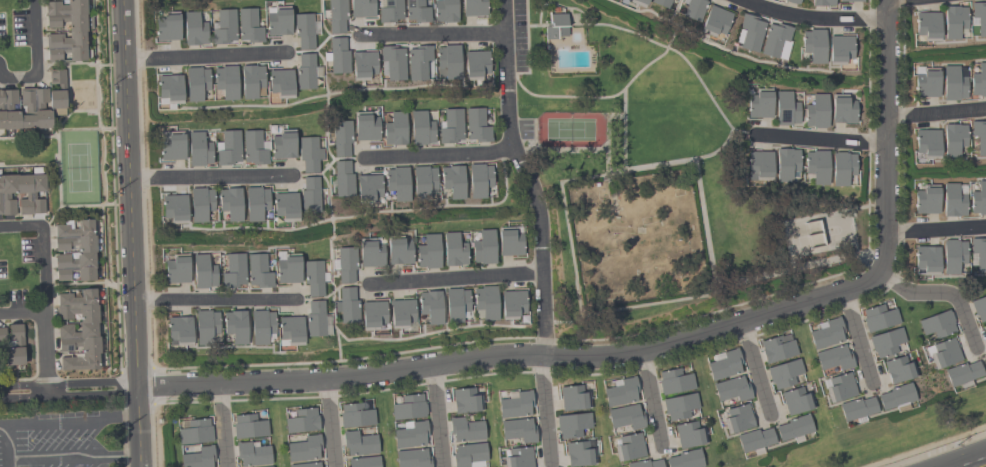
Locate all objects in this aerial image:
building: (850, 0)
road: (885, 0)
road: (890, 0)
building: (793, 1)
building: (637, 2)
building: (822, 2)
building: (660, 3)
building: (473, 7)
building: (362, 8)
building: (694, 9)
building: (445, 10)
building: (390, 11)
building: (416, 11)
building: (336, 16)
road: (814, 16)
building: (979, 17)
building: (278, 21)
building: (714, 21)
building: (953, 21)
building: (248, 25)
building: (556, 25)
building: (927, 25)
building: (167, 26)
building: (224, 27)
building: (193, 29)
building: (303, 30)
building: (76, 31)
building: (749, 32)
road: (434, 33)
building: (775, 40)
building: (813, 45)
building: (838, 49)
road: (36, 55)
road: (204, 55)
building: (337, 55)
building: (418, 61)
building: (447, 61)
building: (392, 62)
building: (362, 64)
building: (475, 64)
building: (306, 71)
building: (250, 80)
building: (979, 80)
building: (225, 81)
building: (280, 81)
building: (927, 82)
building: (954, 82)
building: (195, 83)
building: (169, 90)
building: (760, 103)
building: (32, 104)
building: (786, 108)
building: (842, 109)
building: (816, 111)
road: (936, 112)
building: (477, 125)
building: (365, 126)
building: (451, 126)
building: (421, 128)
building: (395, 129)
park: (569, 129)
road: (885, 136)
building: (979, 136)
building: (342, 138)
road: (820, 138)
building: (953, 139)
building: (926, 143)
building: (283, 145)
building: (228, 147)
building: (253, 147)
building: (172, 148)
building: (199, 150)
road: (440, 152)
building: (309, 153)
building: (786, 163)
building: (759, 164)
building: (816, 166)
building: (841, 168)
park: (77, 169)
park: (655, 171)
road: (209, 176)
road: (528, 176)
building: (342, 179)
building: (478, 179)
building: (452, 180)
building: (422, 181)
building: (397, 182)
building: (367, 187)
road: (128, 193)
building: (310, 194)
building: (29, 196)
building: (978, 198)
building: (926, 199)
building: (953, 200)
building: (255, 202)
building: (200, 203)
building: (230, 203)
building: (285, 206)
building: (174, 207)
road: (935, 229)
building: (510, 242)
building: (483, 247)
building: (85, 248)
building: (453, 249)
building: (399, 251)
building: (428, 252)
building: (371, 253)
building: (979, 253)
building: (952, 255)
building: (926, 259)
building: (346, 264)
building: (288, 268)
building: (177, 269)
road: (42, 270)
building: (234, 270)
building: (258, 271)
building: (203, 272)
building: (313, 277)
road: (455, 277)
road: (942, 291)
road: (214, 298)
building: (485, 302)
building: (512, 304)
building: (347, 305)
building: (456, 305)
building: (430, 306)
building: (979, 308)
building: (401, 312)
building: (372, 313)
building: (314, 318)
building: (878, 318)
building: (937, 324)
building: (235, 325)
building: (206, 326)
building: (261, 326)
building: (985, 326)
building: (290, 328)
building: (78, 330)
building: (179, 330)
building: (826, 333)
road: (858, 335)
building: (886, 342)
building: (12, 345)
building: (777, 348)
road: (45, 351)
building: (942, 352)
road: (513, 354)
building: (834, 357)
building: (984, 362)
building: (723, 364)
road: (755, 367)
building: (899, 369)
building: (784, 373)
building: (962, 373)
building: (674, 381)
building: (840, 387)
road: (68, 389)
building: (732, 389)
building: (621, 391)
road: (651, 396)
building: (895, 396)
building: (573, 398)
building: (465, 400)
building: (795, 400)
road: (209, 402)
building: (515, 404)
building: (679, 406)
building: (408, 407)
road: (545, 408)
building: (856, 408)
building: (355, 415)
road: (436, 415)
building: (626, 417)
building: (737, 418)
building: (302, 421)
road: (48, 422)
road: (330, 422)
road: (0, 424)
building: (572, 424)
road: (223, 425)
road: (138, 426)
building: (248, 426)
building: (793, 427)
building: (465, 429)
building: (518, 430)
building: (195, 431)
building: (687, 434)
building: (410, 435)
building: (754, 439)
building: (359, 443)
building: (629, 447)
building: (304, 449)
road: (936, 449)
building: (251, 453)
building: (579, 453)
building: (469, 455)
road: (70, 457)
building: (198, 457)
building: (517, 457)
building: (412, 458)
building: (685, 459)
building: (364, 461)
building: (644, 463)
building: (305, 465)
building: (267, 466)

